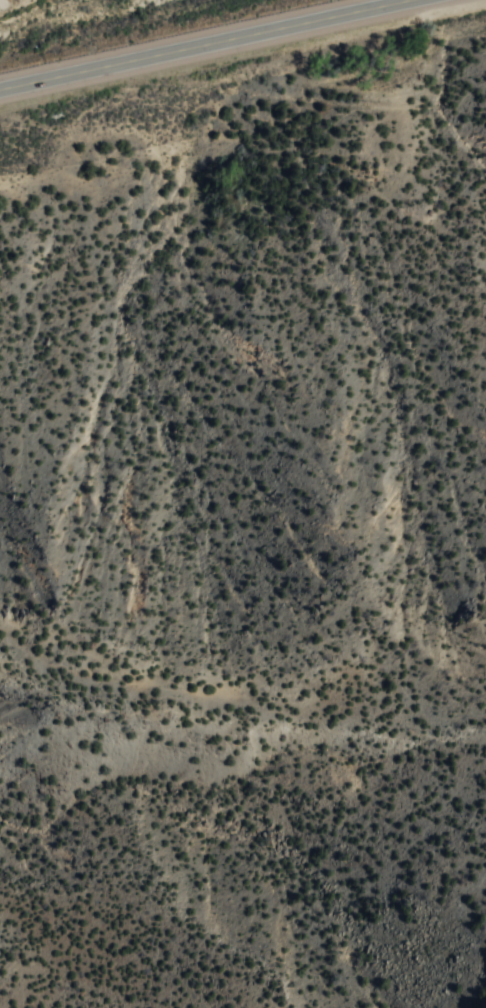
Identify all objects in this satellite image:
road: (204, 44)

